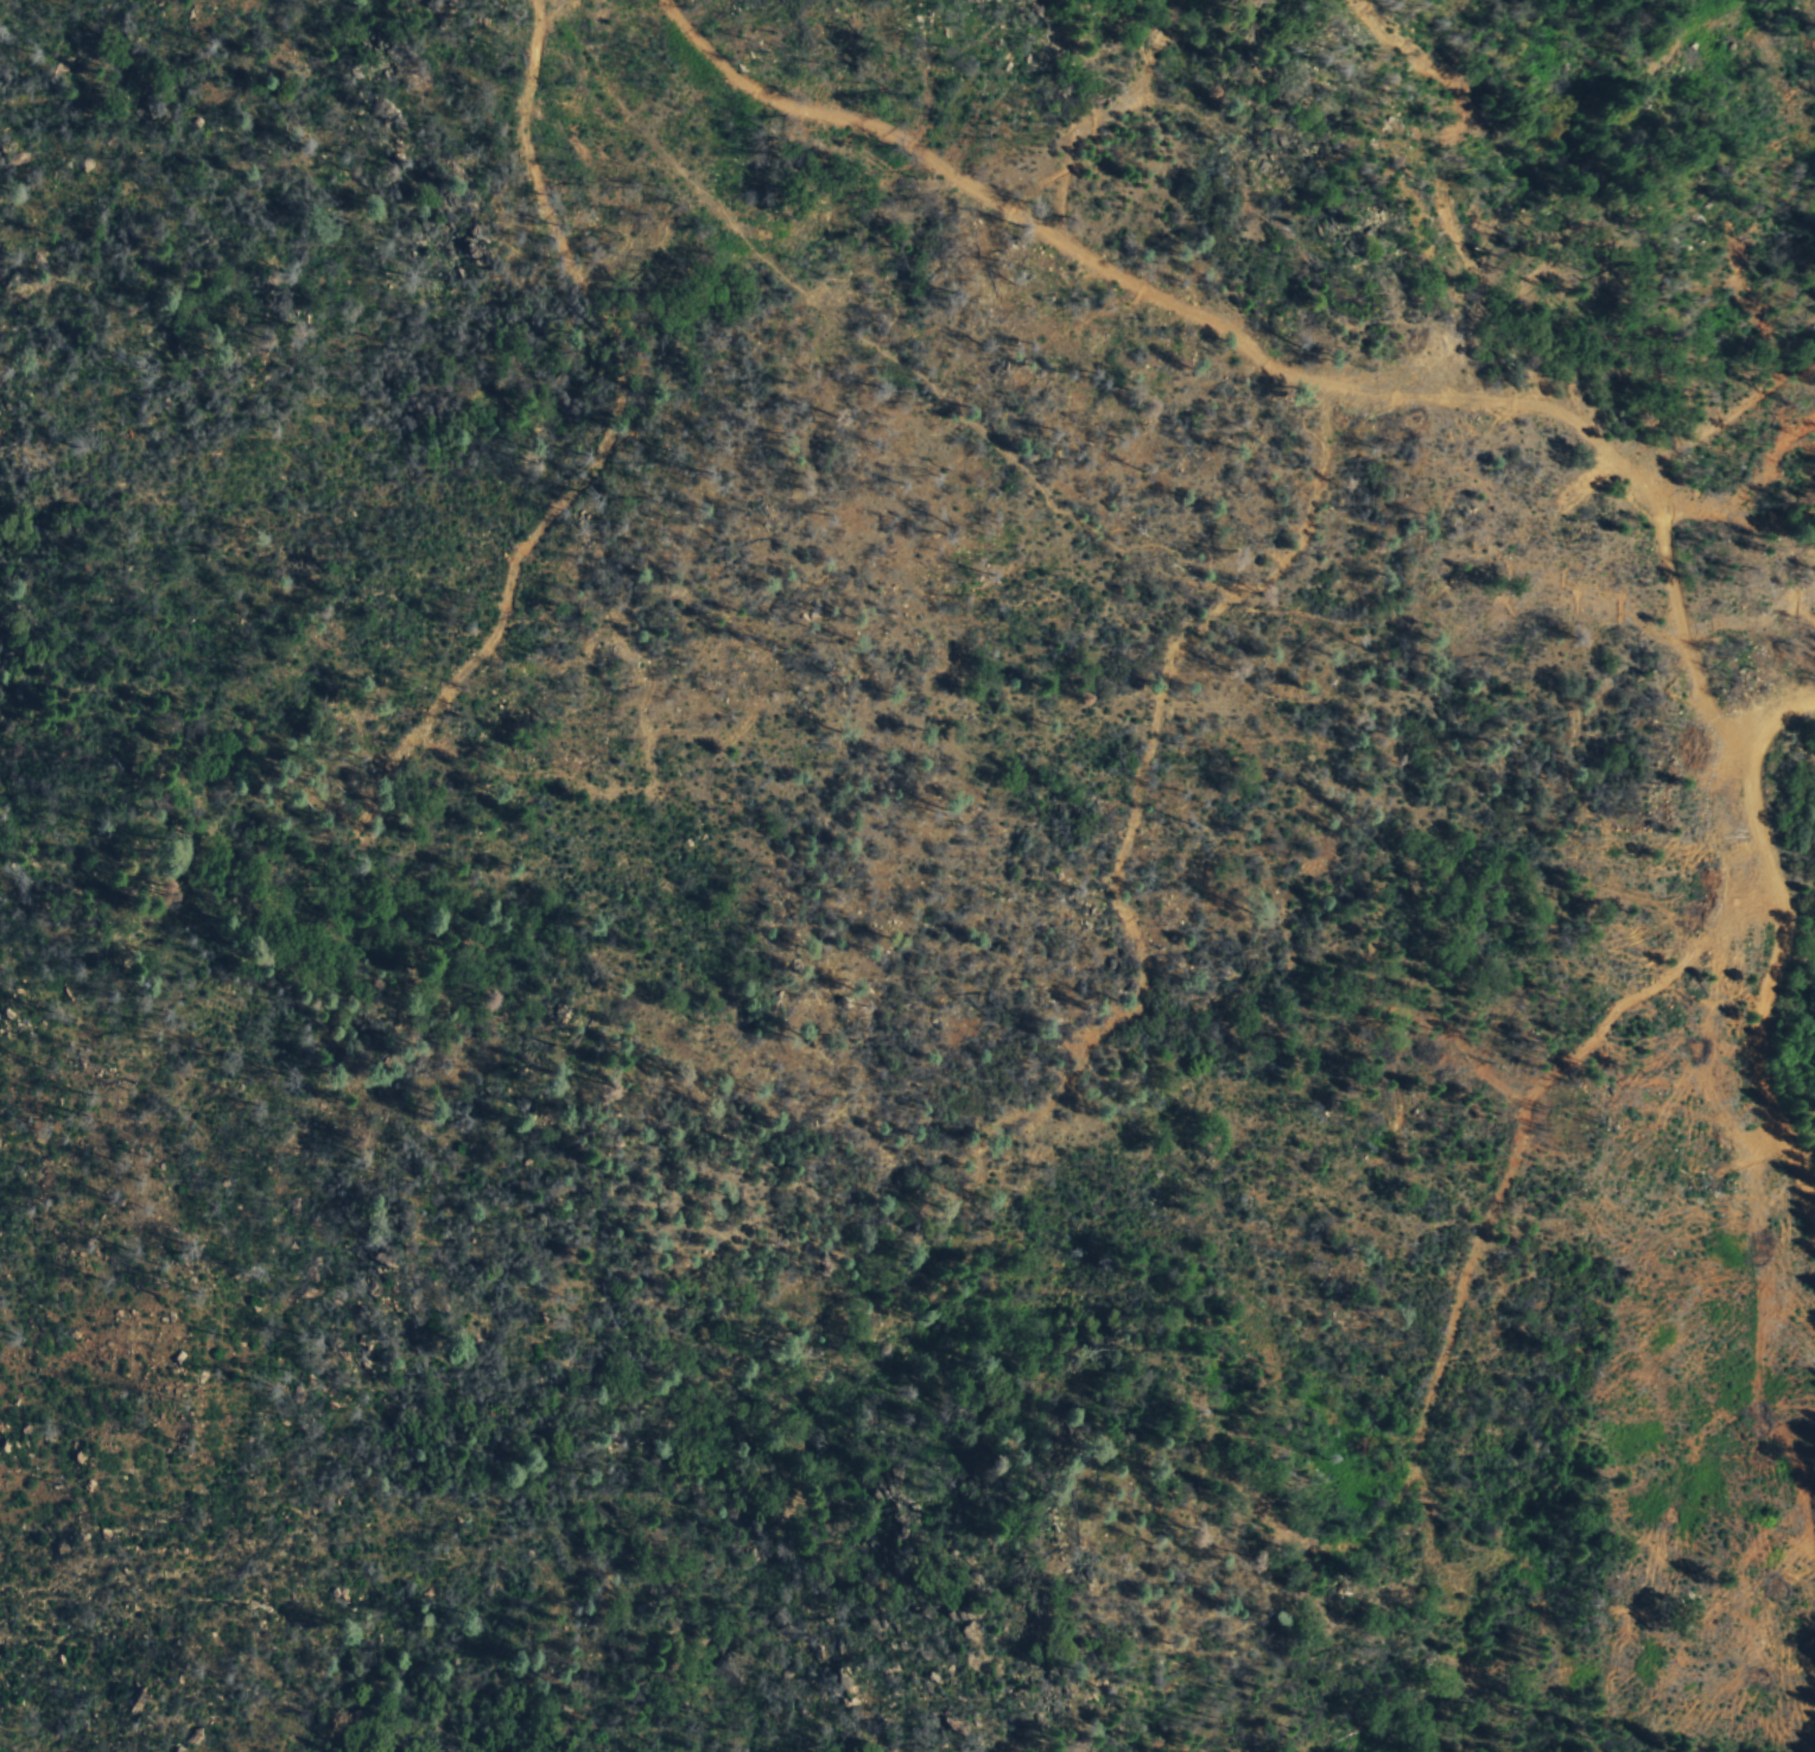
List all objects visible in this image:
road: (1802, 914)

